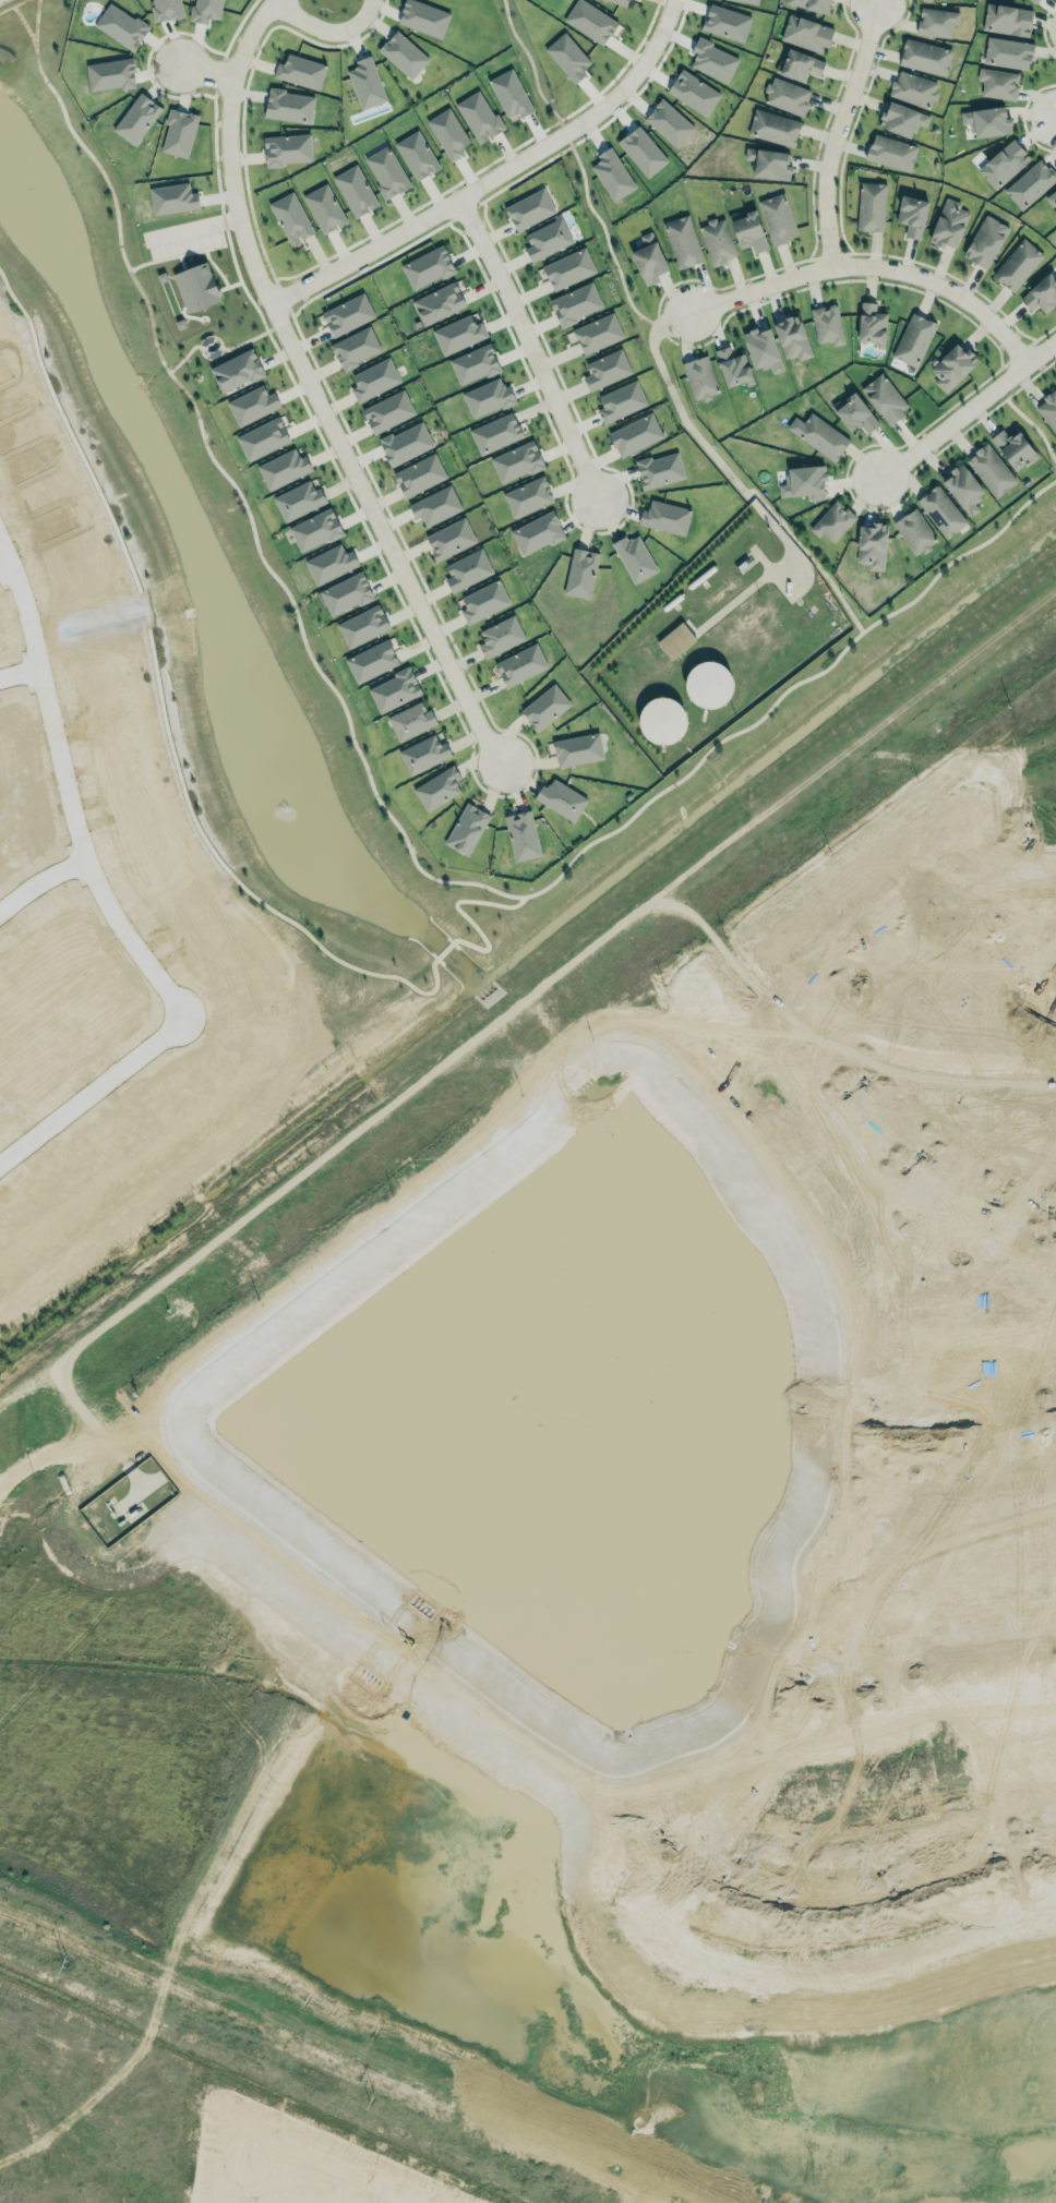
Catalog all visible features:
road: (271, 1)
building: (748, 1)
building: (923, 1)
building: (1034, 1)
road: (12, 4)
building: (812, 4)
building: (166, 10)
building: (203, 10)
building: (588, 19)
building: (1006, 19)
building: (936, 22)
building: (725, 23)
road: (24, 25)
building: (121, 26)
road: (324, 28)
road: (1041, 28)
building: (806, 33)
building: (1007, 52)
building: (403, 53)
building: (924, 57)
road: (529, 59)
building: (712, 60)
building: (799, 64)
road: (204, 70)
building: (300, 71)
road: (216, 73)
building: (110, 74)
building: (365, 83)
building: (997, 83)
building: (913, 87)
building: (693, 93)
building: (509, 94)
building: (787, 95)
building: (288, 106)
road: (1054, 115)
building: (478, 116)
road: (1023, 116)
building: (136, 118)
building: (901, 118)
building: (986, 121)
building: (668, 122)
building: (773, 125)
building: (177, 131)
road: (564, 132)
road: (833, 132)
building: (447, 133)
building: (287, 148)
building: (890, 152)
building: (415, 156)
building: (651, 158)
building: (1003, 162)
building: (768, 164)
building: (386, 171)
building: (610, 173)
road: (494, 176)
building: (1029, 183)
fountain: (28, 190)
building: (355, 190)
building: (170, 197)
building: (1051, 198)
building: (872, 206)
building: (324, 208)
building: (527, 208)
road: (464, 210)
building: (1055, 213)
building: (911, 215)
building: (290, 217)
building: (778, 218)
road: (228, 219)
building: (948, 224)
building: (747, 230)
road: (840, 236)
parking lot: (181, 237)
road: (607, 238)
building: (547, 239)
building: (682, 240)
building: (717, 241)
building: (984, 241)
road: (831, 253)
road: (175, 254)
building: (648, 260)
road: (872, 263)
building: (1017, 264)
road: (312, 265)
road: (215, 267)
building: (427, 267)
building: (568, 267)
road: (851, 279)
road: (228, 285)
building: (196, 287)
building: (1040, 294)
road: (283, 296)
building: (572, 302)
building: (437, 303)
building: (346, 315)
road: (279, 321)
building: (871, 323)
building: (827, 324)
building: (597, 333)
building: (458, 334)
building: (791, 335)
building: (913, 338)
road: (216, 344)
building: (355, 347)
building: (761, 347)
road: (528, 349)
road: (1018, 351)
building: (473, 363)
building: (732, 366)
building: (951, 366)
building: (605, 369)
building: (236, 371)
building: (699, 375)
building: (372, 380)
road: (313, 392)
building: (884, 396)
building: (487, 397)
building: (620, 401)
building: (250, 404)
road: (677, 404)
building: (1047, 408)
road: (967, 409)
building: (386, 411)
building: (854, 413)
road: (1035, 425)
building: (495, 433)
building: (634, 434)
building: (820, 435)
building: (262, 438)
building: (405, 443)
building: (1012, 445)
building: (516, 461)
building: (280, 468)
building: (989, 468)
building: (659, 470)
building: (418, 474)
road: (370, 477)
building: (804, 482)
building: (962, 489)
building: (527, 496)
building: (297, 497)
building: (433, 505)
building: (940, 508)
building: (664, 517)
building: (831, 519)
building: (914, 529)
building: (314, 530)
building: (536, 533)
building: (449, 538)
building: (871, 542)
road: (807, 555)
building: (634, 557)
building: (329, 563)
building: (467, 569)
building: (580, 573)
road: (7, 577)
building: (345, 593)
building: (483, 601)
building: (362, 625)
building: (499, 635)
building: (675, 640)
building: (371, 661)
building: (519, 663)
road: (21, 682)
building: (707, 684)
building: (394, 690)
road: (48, 703)
road: (170, 703)
building: (544, 707)
building: (410, 719)
building: (661, 720)
building: (575, 748)
building: (423, 754)
building: (436, 788)
road: (375, 794)
building: (561, 799)
fountain: (288, 810)
building: (466, 829)
building: (520, 834)
road: (458, 907)
road: (883, 941)
road: (1009, 941)
road: (446, 947)
road: (1042, 955)
road: (171, 999)
road: (455, 1051)
road: (911, 1145)
road: (979, 1434)
road: (944, 1639)
road: (869, 1881)
river: (521, 1921)
power tower: (71, 1963)
power tower: (373, 2096)
road: (43, 2143)
road: (267, 2171)

